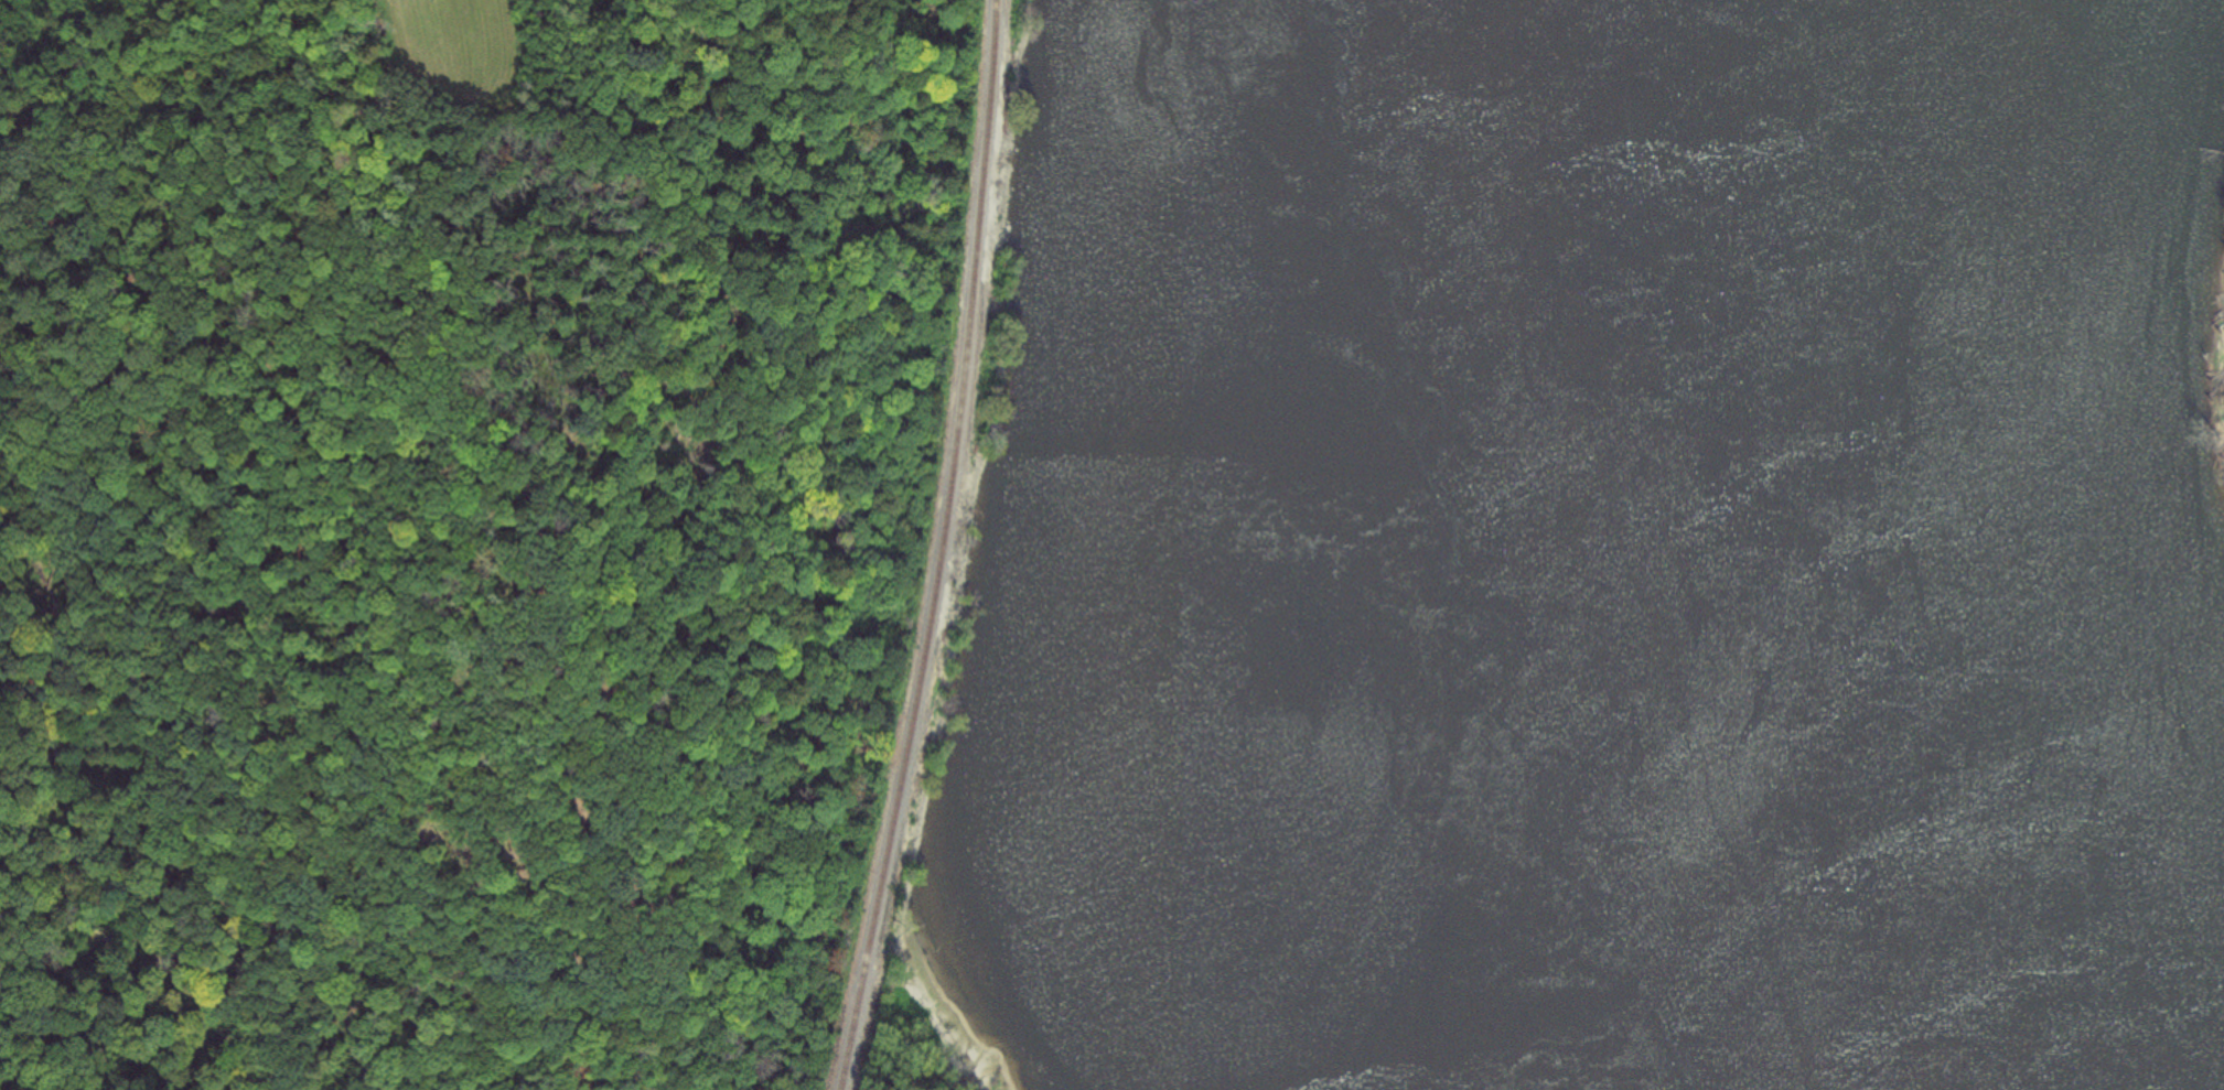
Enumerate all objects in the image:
railway: (942, 548)
river: (1790, 554)
park: (441, 1044)

